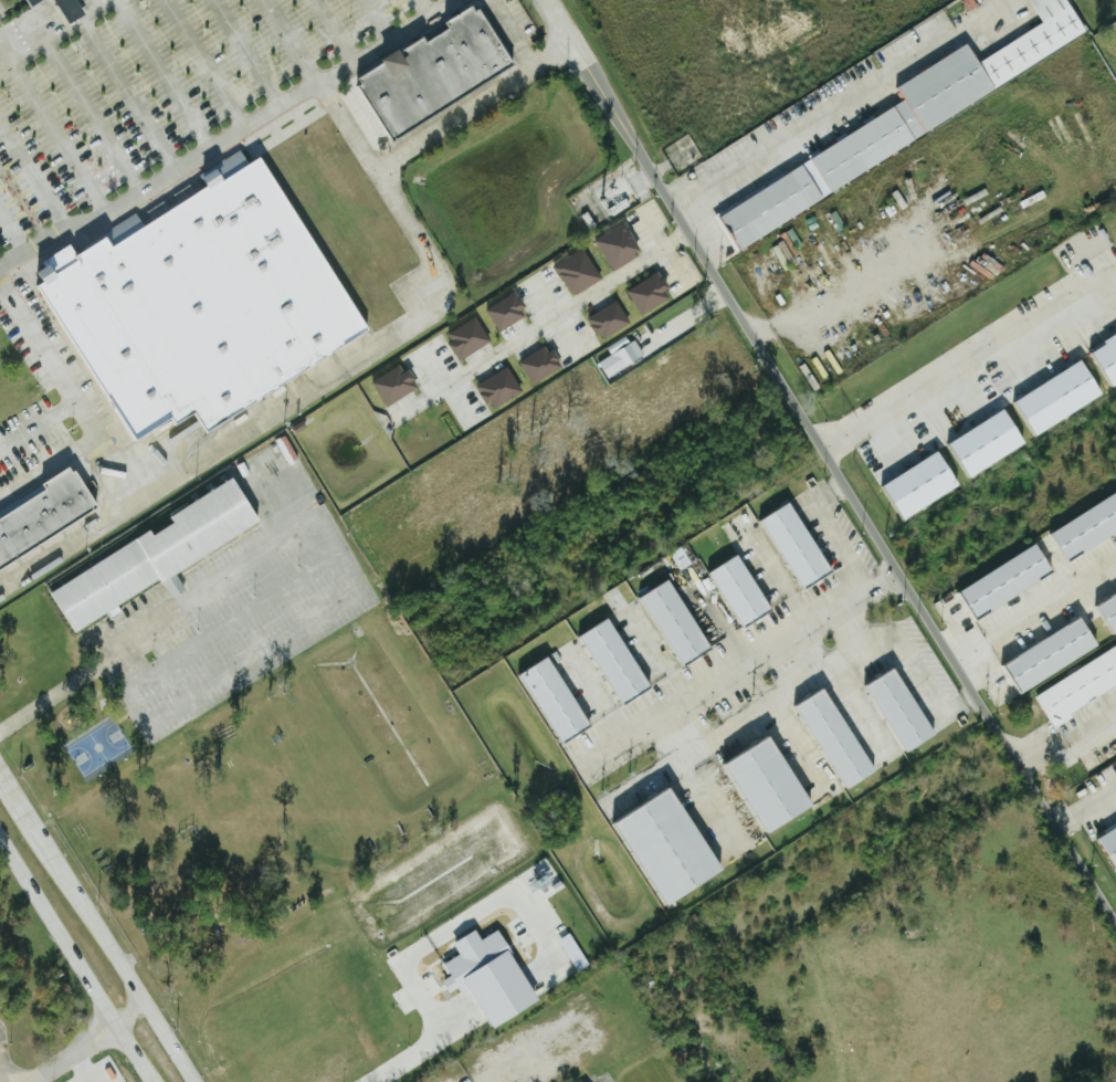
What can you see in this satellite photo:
road: (77, 0)
building: (33, 2)
road: (72, 7)
building: (71, 9)
road: (33, 29)
road: (336, 30)
road: (291, 41)
road: (1, 45)
road: (245, 53)
road: (202, 64)
road: (161, 75)
building: (956, 88)
road: (123, 91)
parking lot: (124, 97)
road: (839, 105)
road: (474, 106)
road: (86, 112)
road: (51, 132)
road: (229, 137)
road: (28, 183)
building: (771, 206)
road: (11, 233)
building: (618, 245)
building: (578, 272)
building: (649, 293)
building: (206, 303)
building: (506, 312)
building: (609, 321)
road: (550, 323)
road: (390, 337)
building: (467, 338)
building: (620, 356)
building: (1107, 359)
building: (540, 365)
building: (394, 385)
building: (498, 388)
road: (966, 388)
road: (67, 395)
building: (1061, 397)
road: (35, 426)
building: (989, 443)
road: (831, 459)
road: (46, 464)
road: (842, 484)
building: (924, 485)
road: (829, 493)
building: (43, 515)
building: (1087, 528)
road: (844, 543)
building: (799, 546)
road: (67, 547)
building: (151, 555)
building: (1009, 581)
road: (362, 584)
building: (743, 591)
road: (1032, 600)
building: (1109, 611)
road: (235, 619)
building: (677, 623)
road: (899, 635)
building: (1053, 655)
building: (618, 662)
road: (743, 666)
building: (1078, 686)
road: (54, 694)
road: (970, 700)
building: (557, 701)
road: (958, 708)
building: (904, 711)
road: (1067, 738)
building: (839, 739)
park: (96, 746)
building: (772, 786)
road: (18, 800)
road: (1086, 807)
building: (1110, 843)
building: (673, 848)
road: (418, 947)
road: (113, 955)
road: (72, 958)
building: (492, 978)
road: (127, 1015)
road: (76, 1054)
road: (80, 1069)

